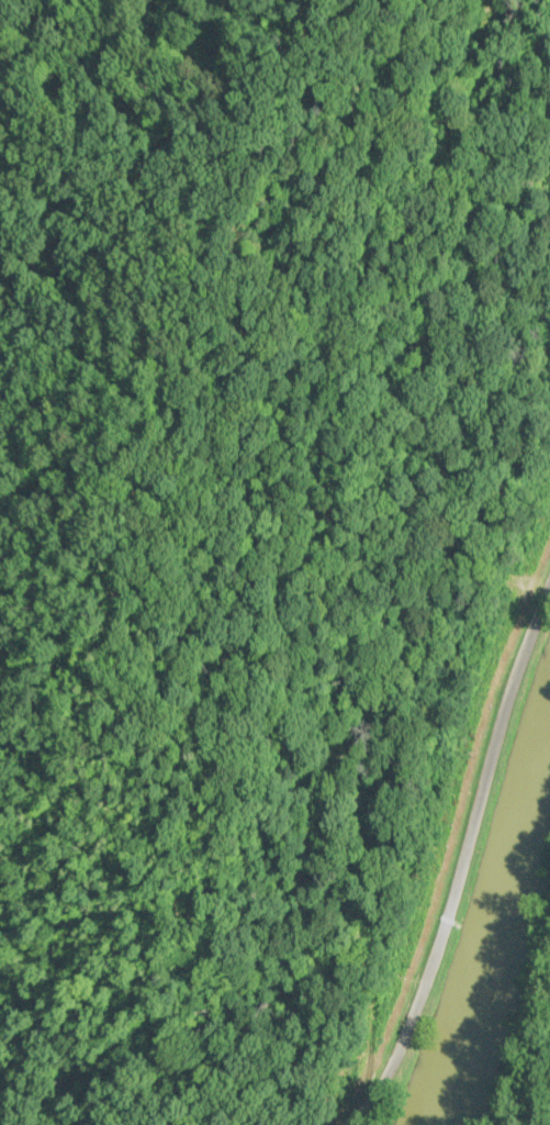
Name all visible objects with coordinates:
road: (462, 862)
river: (493, 945)

